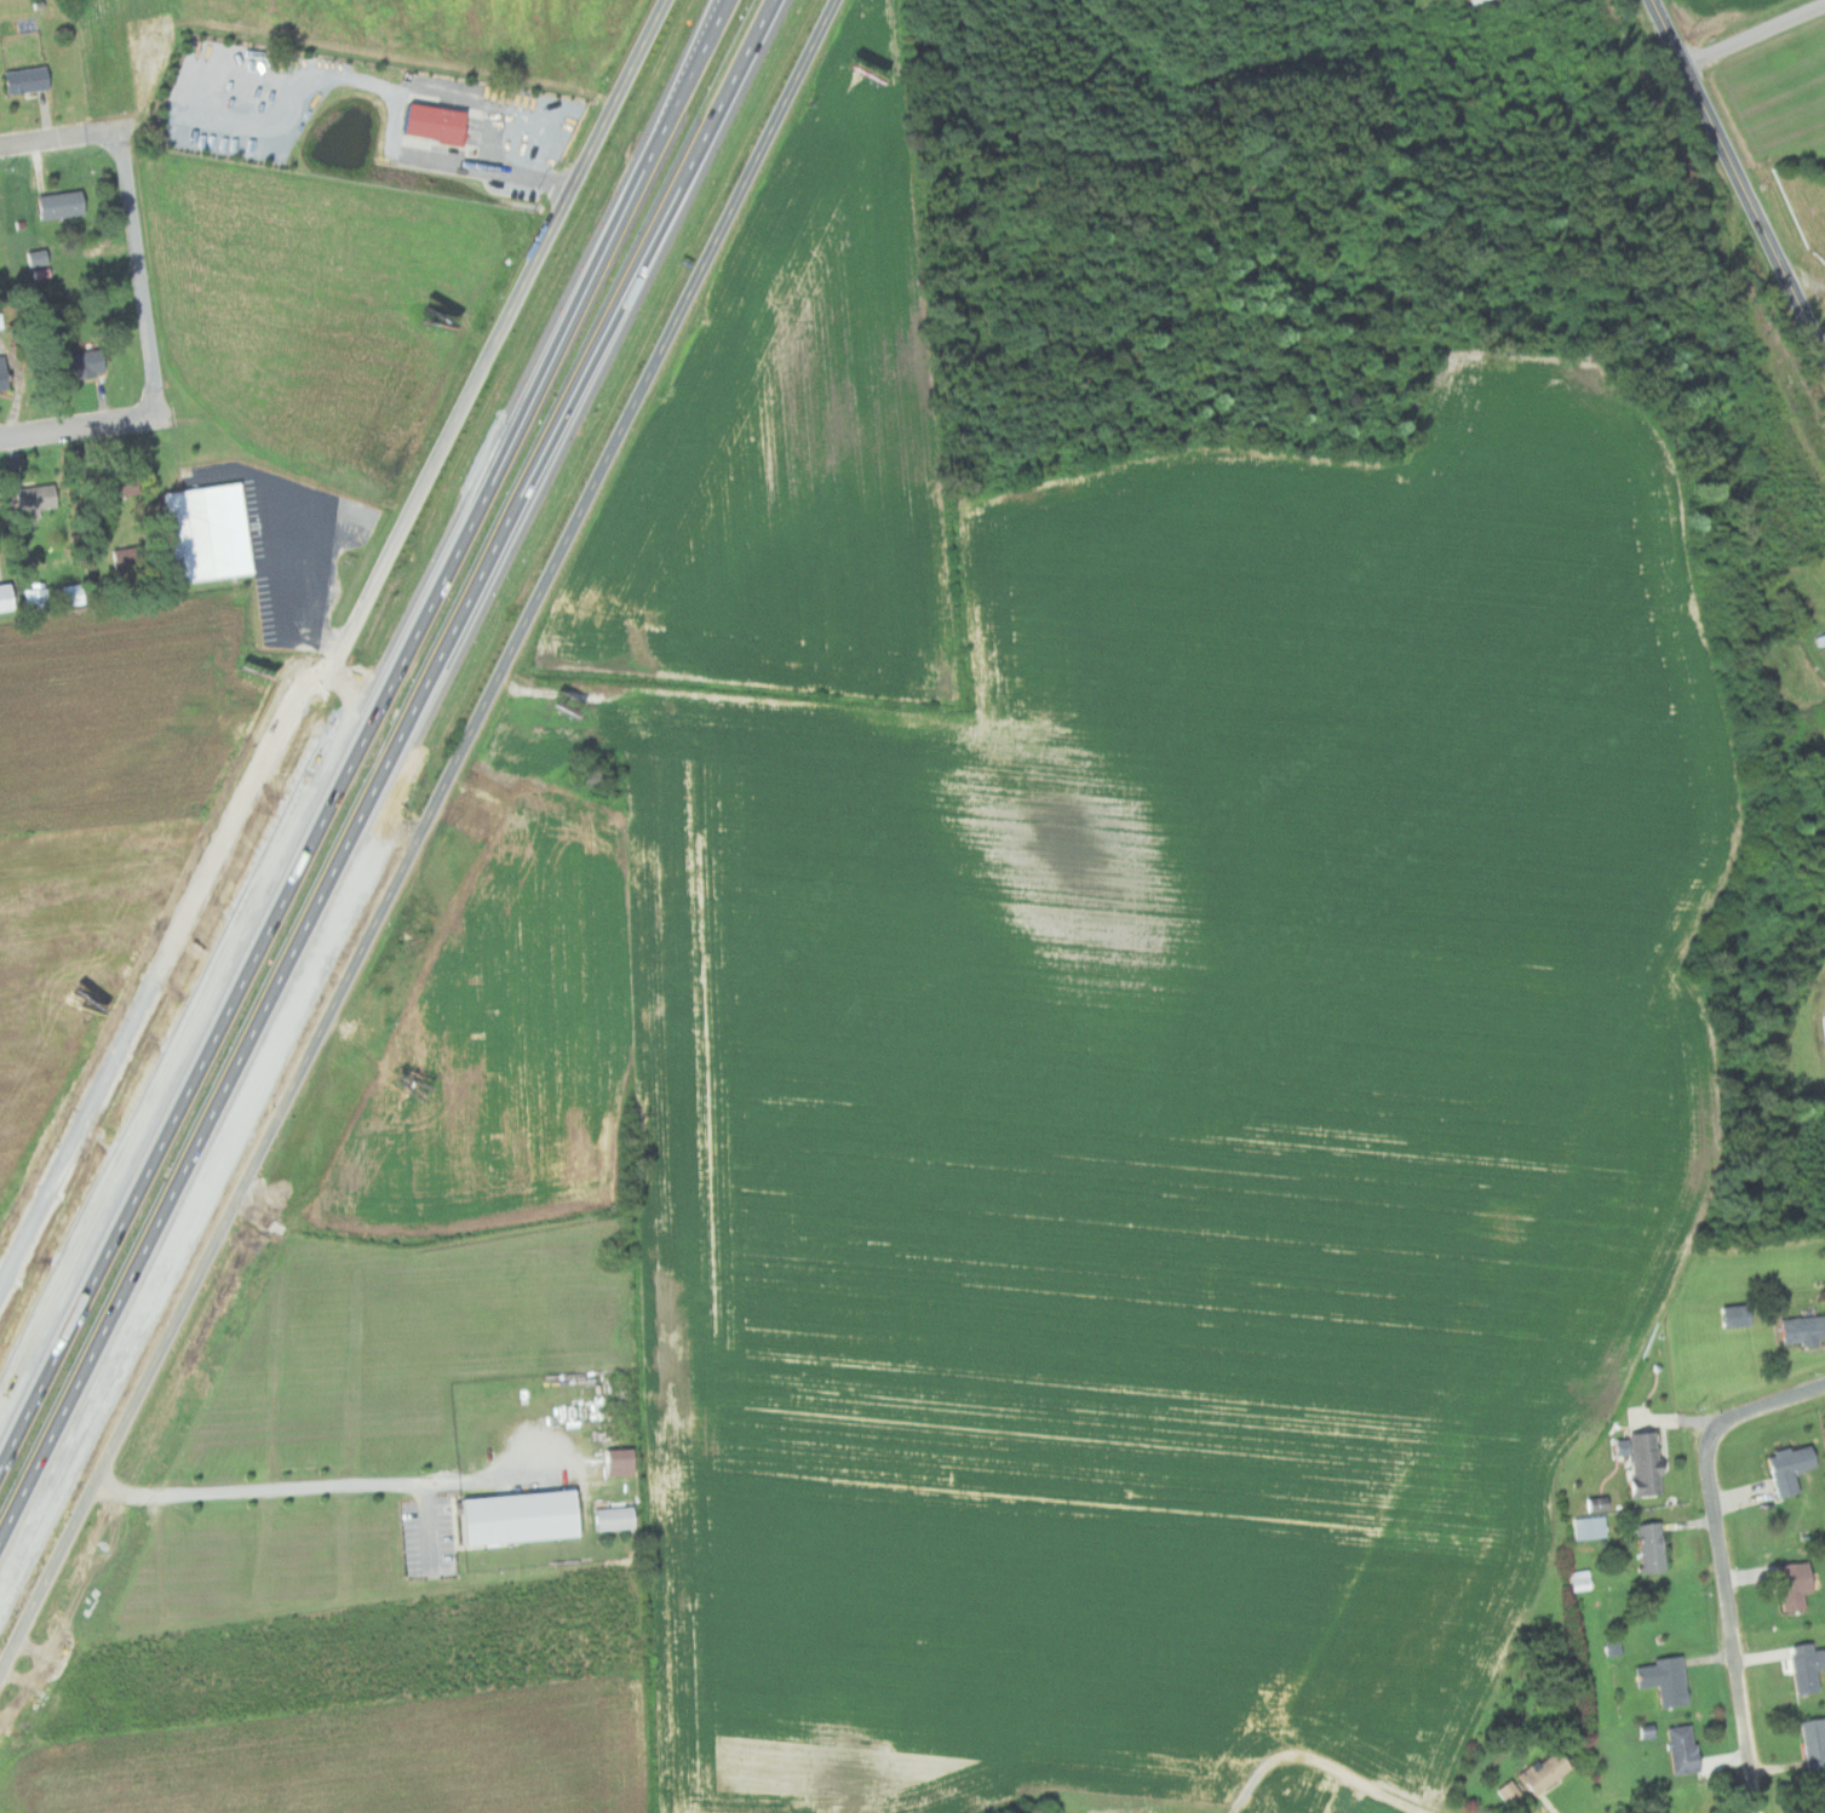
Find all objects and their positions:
building: (1476, 0)
road: (1754, 31)
building: (21, 80)
building: (426, 124)
road: (58, 137)
road: (510, 170)
road: (1739, 177)
building: (54, 205)
road: (134, 272)
building: (75, 362)
building: (1, 378)
road: (160, 414)
road: (76, 425)
building: (30, 500)
building: (203, 533)
building: (65, 595)
building: (31, 596)
building: (1, 598)
road: (338, 648)
road: (362, 724)
road: (385, 776)
road: (418, 834)
building: (1823, 1032)
building: (1801, 1329)
building: (1615, 1446)
building: (613, 1461)
building: (1639, 1462)
building: (1785, 1467)
road: (264, 1486)
building: (515, 1516)
building: (609, 1517)
building: (1586, 1526)
building: (1646, 1545)
road: (1731, 1566)
building: (1789, 1584)
building: (1801, 1665)
building: (1662, 1679)
building: (1810, 1742)
building: (1677, 1749)
road: (1322, 1760)
building: (1539, 1771)
building: (1504, 1790)

